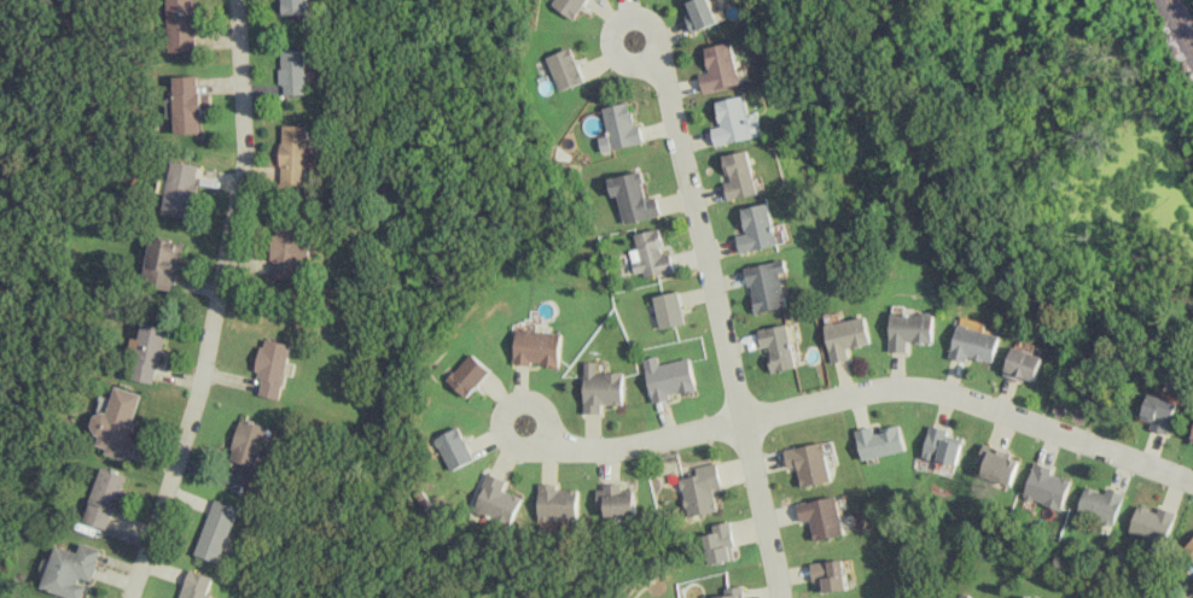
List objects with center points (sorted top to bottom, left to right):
building: (295, 6)
building: (568, 6)
building: (702, 14)
road: (651, 23)
building: (179, 24)
railway: (1179, 25)
building: (721, 66)
building: (561, 68)
building: (292, 71)
building: (182, 104)
building: (733, 121)
building: (292, 153)
building: (740, 175)
building: (179, 188)
building: (632, 197)
building: (757, 228)
building: (284, 248)
building: (648, 253)
building: (162, 263)
building: (767, 285)
road: (214, 304)
building: (668, 309)
road: (720, 324)
building: (910, 329)
building: (848, 336)
building: (976, 344)
building: (535, 346)
building: (778, 346)
building: (145, 352)
building: (1024, 364)
building: (270, 367)
building: (466, 375)
building: (668, 377)
building: (600, 388)
road: (871, 392)
building: (1158, 412)
road: (541, 415)
building: (114, 423)
building: (1192, 439)
building: (248, 441)
building: (880, 441)
building: (941, 445)
building: (453, 447)
building: (810, 463)
building: (997, 464)
building: (1046, 486)
building: (699, 487)
building: (100, 497)
building: (495, 500)
building: (558, 503)
building: (618, 504)
building: (1099, 504)
building: (822, 516)
building: (1152, 523)
building: (214, 529)
building: (718, 543)
building: (1189, 547)
building: (69, 569)
building: (830, 574)
building: (196, 585)
building: (729, 593)
building: (1028, 597)

